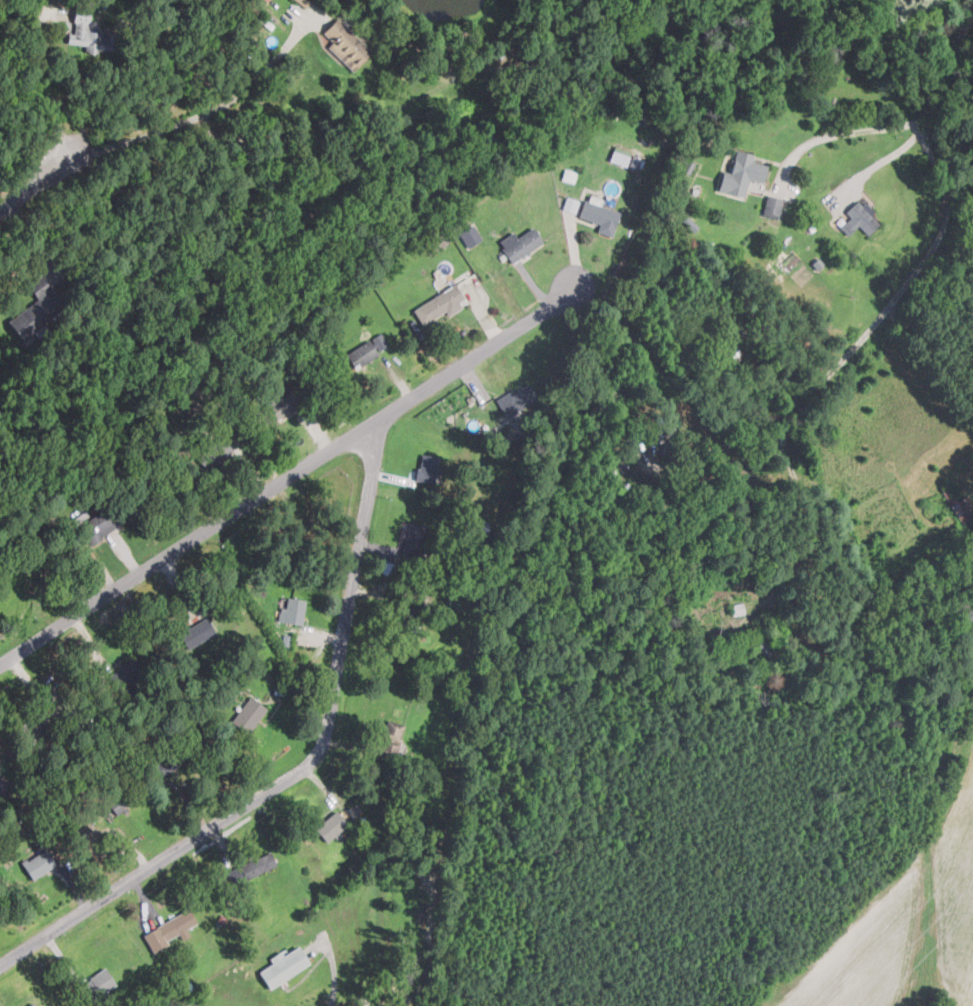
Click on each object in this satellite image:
building: (303, 2)
building: (90, 34)
building: (346, 44)
road: (201, 114)
road: (847, 130)
building: (620, 154)
building: (741, 173)
building: (569, 175)
road: (41, 181)
building: (570, 204)
building: (772, 206)
road: (948, 208)
building: (599, 217)
building: (858, 218)
building: (470, 237)
building: (436, 243)
building: (521, 245)
building: (439, 305)
building: (35, 309)
road: (915, 344)
building: (367, 350)
building: (284, 381)
building: (516, 400)
building: (274, 411)
road: (749, 433)
building: (214, 452)
building: (428, 469)
road: (294, 476)
building: (955, 500)
building: (108, 519)
building: (477, 529)
building: (413, 540)
building: (294, 610)
building: (410, 616)
building: (196, 632)
building: (127, 673)
building: (249, 714)
building: (36, 725)
building: (393, 730)
building: (168, 759)
road: (302, 769)
building: (3, 781)
building: (119, 802)
building: (330, 826)
building: (38, 863)
building: (253, 867)
building: (168, 929)
building: (283, 966)
building: (96, 985)
building: (31, 1005)

